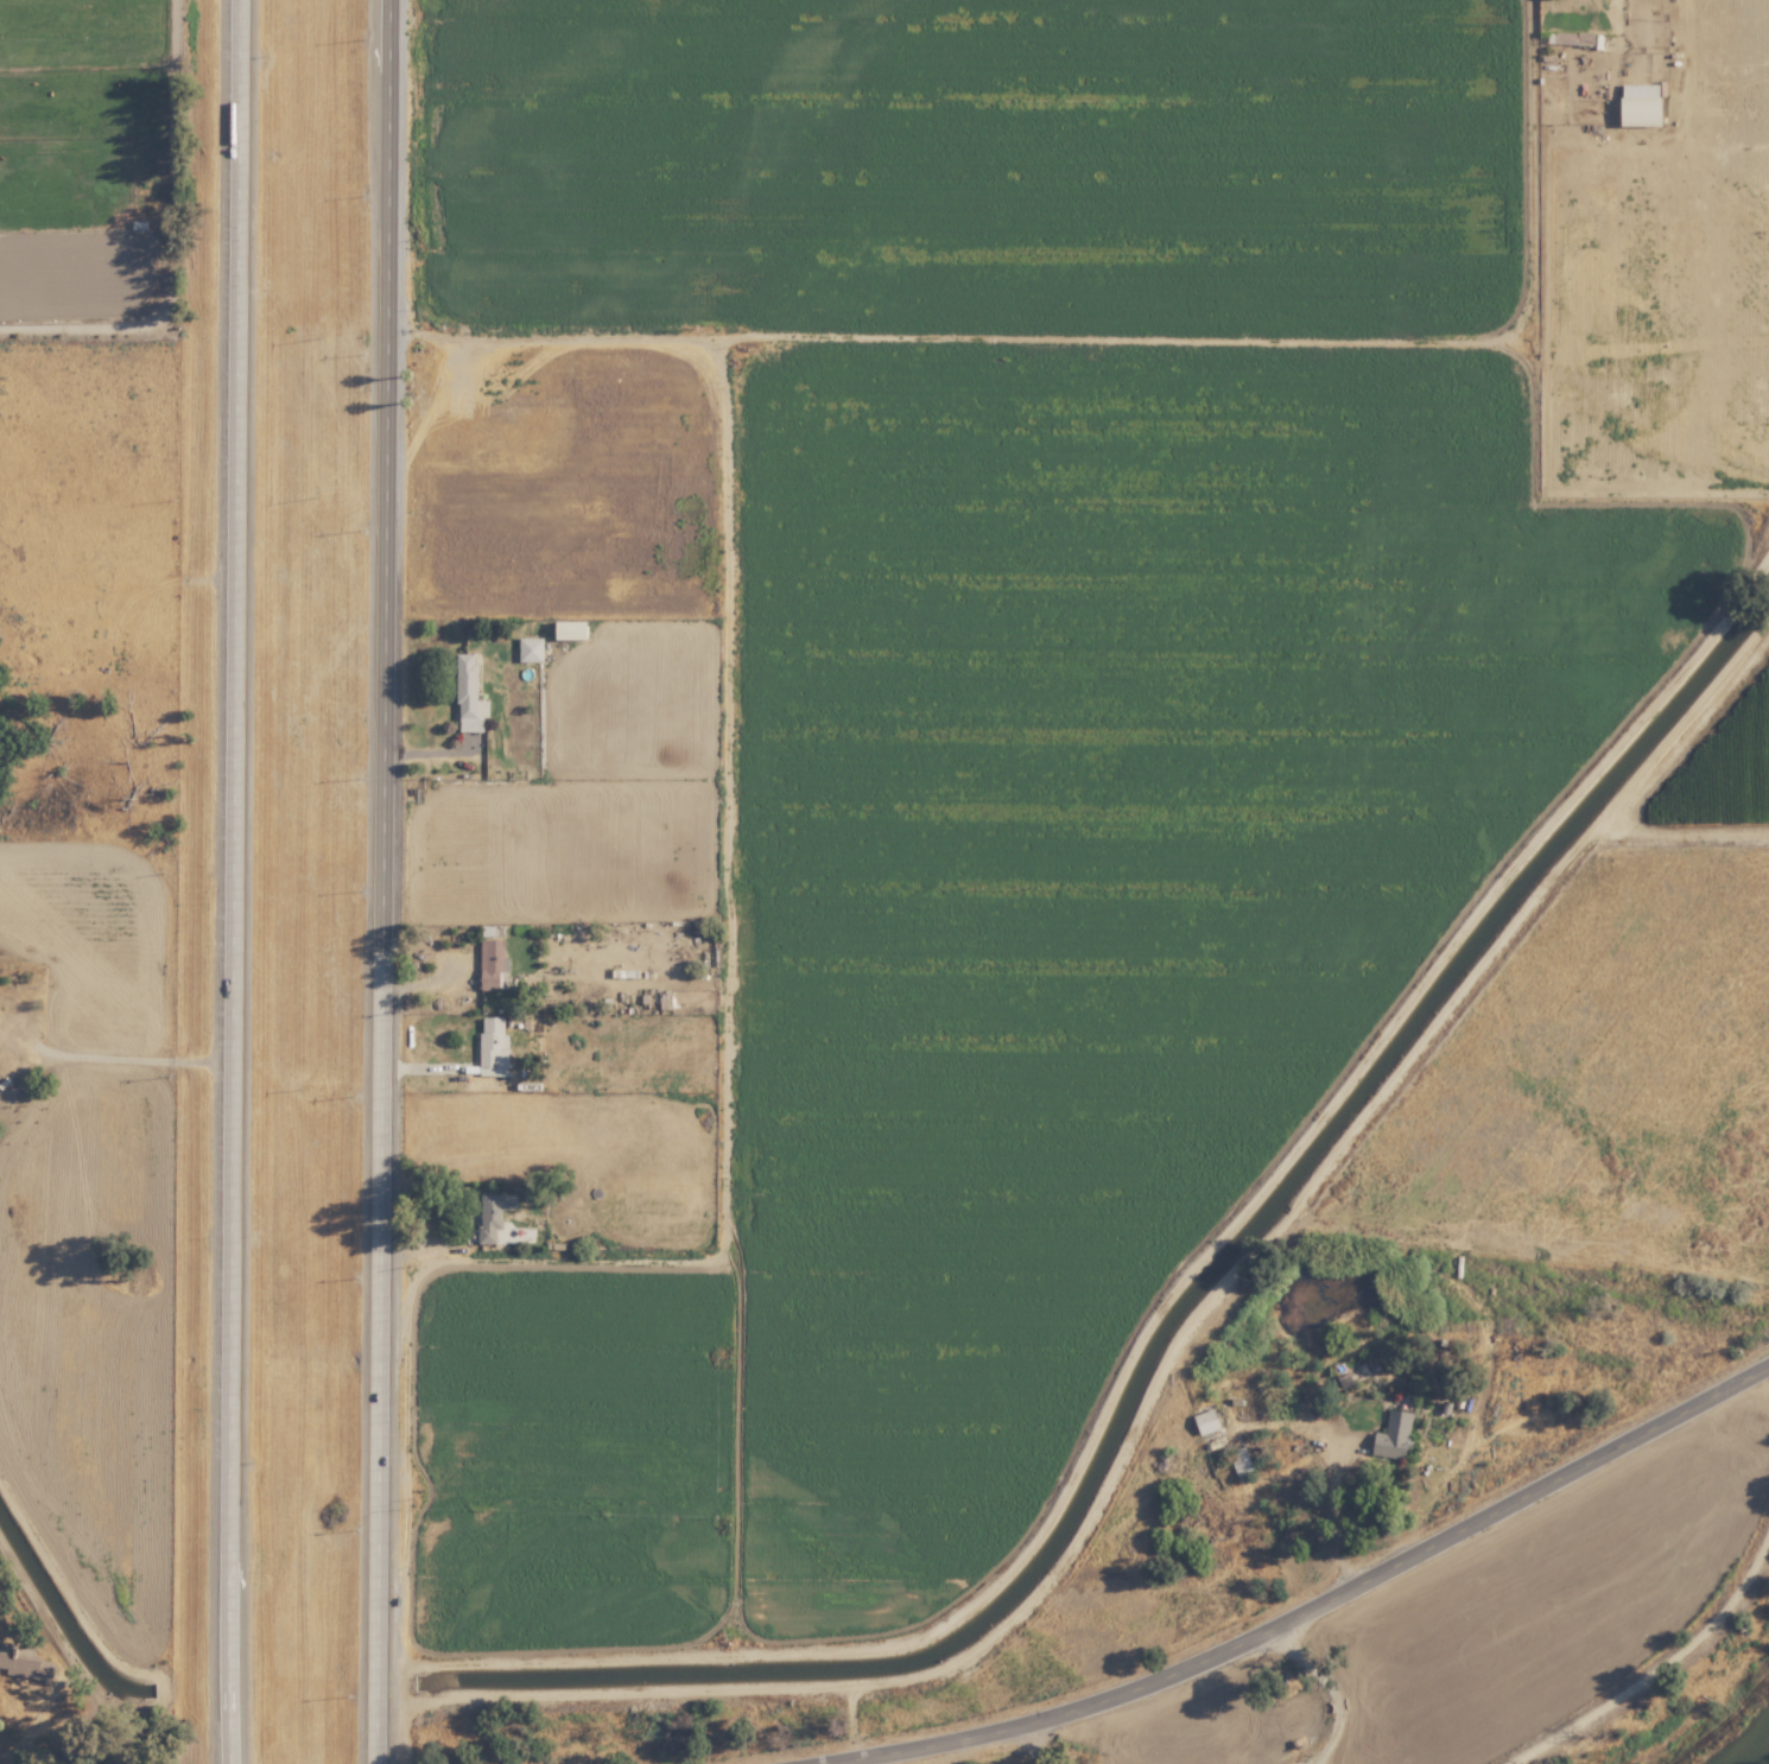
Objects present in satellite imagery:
building: (1642, 104)
crop: (84, 115)
road: (177, 239)
building: (572, 630)
building: (531, 649)
building: (469, 696)
crop: (1093, 755)
road: (233, 881)
road: (382, 881)
building: (493, 962)
building: (493, 1047)
road: (129, 1059)
building: (494, 1213)
building: (1206, 1421)
building: (1395, 1435)
road: (1331, 1515)
road: (1308, 1608)
building: (23, 1662)
road: (1660, 1664)
road: (1332, 1692)
road: (1035, 1741)
river: (1750, 1746)

